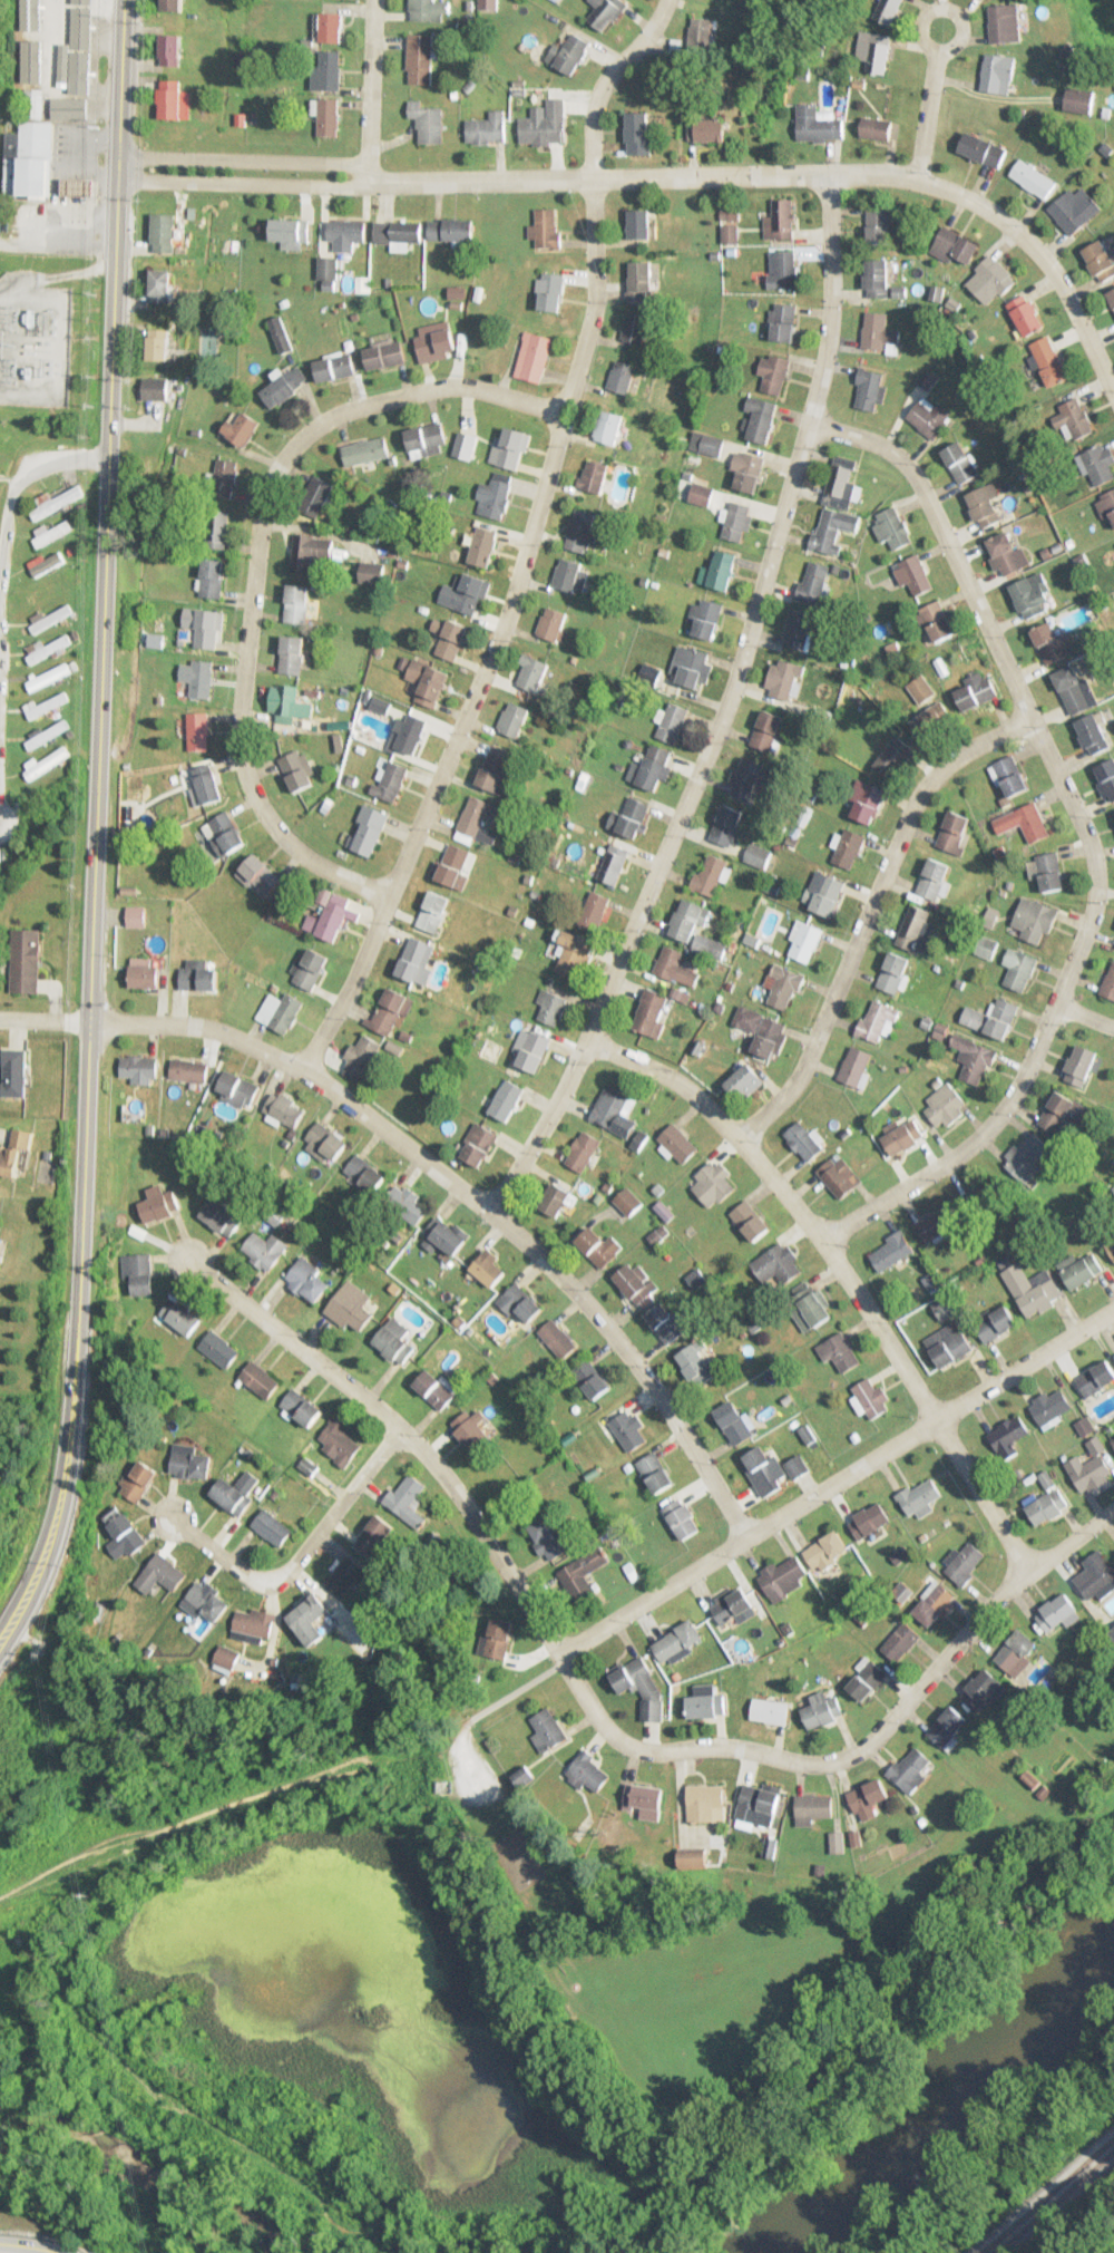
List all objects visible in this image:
building: (81, 4)
building: (488, 4)
building: (172, 6)
road: (944, 7)
building: (429, 10)
building: (888, 11)
building: (607, 13)
building: (1005, 23)
building: (330, 29)
building: (703, 36)
building: (30, 41)
building: (756, 48)
building: (170, 50)
building: (873, 51)
building: (569, 54)
building: (81, 55)
building: (420, 59)
building: (328, 70)
building: (997, 74)
road: (369, 90)
building: (173, 100)
building: (1079, 100)
building: (32, 104)
building: (69, 107)
road: (925, 113)
building: (328, 117)
building: (428, 123)
building: (819, 125)
building: (545, 126)
building: (487, 129)
building: (877, 129)
building: (710, 130)
building: (638, 134)
building: (983, 149)
road: (124, 155)
road: (248, 158)
building: (28, 161)
road: (793, 172)
road: (123, 178)
building: (1032, 178)
road: (247, 182)
building: (75, 187)
gas station: (75, 187)
building: (1074, 210)
building: (783, 220)
building: (639, 225)
building: (879, 225)
building: (450, 230)
building: (546, 230)
building: (398, 232)
building: (163, 233)
building: (291, 234)
building: (346, 234)
building: (954, 245)
road: (56, 250)
building: (1100, 262)
building: (782, 270)
building: (877, 279)
building: (990, 281)
building: (641, 282)
building: (160, 287)
building: (551, 293)
building: (1112, 297)
building: (1026, 315)
building: (783, 323)
building: (635, 328)
building: (879, 333)
building: (281, 334)
building: (436, 339)
building: (158, 346)
building: (207, 346)
building: (384, 356)
building: (534, 358)
building: (1049, 361)
building: (334, 368)
building: (773, 373)
building: (623, 378)
building: (284, 388)
building: (156, 389)
building: (870, 390)
building: (930, 418)
building: (1077, 418)
building: (759, 420)
building: (608, 428)
building: (241, 430)
building: (427, 440)
building: (465, 447)
building: (510, 449)
building: (365, 453)
building: (960, 464)
building: (1101, 465)
building: (747, 470)
building: (593, 477)
building: (225, 479)
building: (700, 495)
building: (317, 497)
building: (495, 497)
road: (7, 502)
building: (55, 503)
building: (1106, 505)
building: (837, 507)
building: (985, 507)
building: (737, 522)
building: (217, 530)
building: (892, 530)
building: (580, 532)
building: (52, 534)
road: (527, 542)
building: (483, 548)
building: (307, 553)
building: (1007, 554)
road: (254, 559)
building: (48, 565)
building: (719, 572)
building: (371, 575)
building: (913, 575)
building: (570, 576)
building: (212, 580)
building: (814, 582)
building: (50, 591)
building: (469, 595)
building: (1032, 595)
building: (296, 605)
building: (705, 619)
building: (51, 620)
building: (936, 622)
building: (553, 624)
building: (206, 629)
building: (798, 630)
building: (449, 639)
building: (1053, 643)
building: (49, 648)
building: (292, 655)
building: (691, 669)
building: (532, 674)
building: (51, 676)
building: (197, 678)
building: (784, 679)
building: (428, 682)
building: (977, 689)
building: (1075, 689)
building: (287, 703)
building: (45, 705)
road: (723, 710)
building: (931, 719)
building: (514, 720)
building: (672, 722)
building: (197, 731)
building: (766, 731)
building: (47, 734)
building: (410, 735)
building: (1093, 735)
building: (893, 757)
building: (46, 763)
building: (651, 768)
building: (297, 770)
building: (494, 770)
building: (1012, 776)
building: (751, 778)
building: (1106, 778)
building: (391, 780)
building: (206, 784)
building: (866, 800)
building: (478, 815)
building: (633, 817)
building: (1028, 822)
road: (95, 824)
building: (729, 826)
building: (368, 831)
building: (954, 832)
building: (226, 833)
road: (1085, 834)
building: (848, 848)
building: (758, 855)
building: (613, 864)
building: (452, 865)
building: (1051, 872)
building: (710, 875)
building: (258, 876)
building: (934, 880)
building: (823, 893)
building: (593, 911)
road: (867, 911)
building: (433, 912)
building: (136, 916)
building: (330, 916)
building: (688, 921)
building: (1034, 921)
building: (916, 929)
building: (803, 941)
building: (575, 955)
building: (26, 962)
building: (416, 962)
building: (668, 962)
building: (311, 970)
building: (1020, 971)
building: (893, 973)
building: (144, 974)
building: (197, 977)
building: (783, 985)
building: (1108, 985)
building: (550, 1008)
building: (280, 1012)
building: (390, 1013)
road: (1083, 1016)
road: (43, 1018)
building: (993, 1018)
building: (648, 1019)
road: (92, 1020)
building: (878, 1021)
building: (762, 1031)
building: (532, 1051)
building: (361, 1058)
building: (974, 1058)
building: (1081, 1066)
building: (138, 1067)
building: (854, 1067)
building: (188, 1070)
building: (16, 1074)
building: (744, 1082)
building: (238, 1088)
building: (507, 1100)
building: (945, 1106)
building: (284, 1109)
building: (614, 1110)
building: (1063, 1113)
building: (902, 1137)
building: (803, 1142)
building: (324, 1144)
building: (678, 1144)
building: (477, 1145)
building: (14, 1150)
building: (583, 1152)
building: (1028, 1158)
building: (364, 1172)
building: (839, 1176)
building: (711, 1185)
building: (990, 1197)
building: (555, 1198)
road: (477, 1202)
building: (158, 1205)
building: (409, 1207)
building: (274, 1214)
building: (221, 1217)
building: (751, 1220)
building: (937, 1223)
building: (446, 1235)
building: (599, 1245)
building: (1111, 1246)
building: (264, 1250)
building: (890, 1251)
building: (779, 1263)
building: (488, 1266)
building: (1081, 1269)
building: (138, 1272)
building: (309, 1281)
building: (636, 1283)
building: (1033, 1289)
building: (519, 1301)
building: (351, 1307)
building: (810, 1307)
building: (180, 1315)
building: (665, 1322)
building: (995, 1322)
building: (558, 1338)
building: (394, 1341)
building: (949, 1343)
building: (219, 1349)
building: (840, 1354)
building: (695, 1365)
building: (1096, 1378)
building: (260, 1379)
building: (592, 1379)
building: (434, 1389)
building: (302, 1406)
building: (1051, 1406)
building: (734, 1421)
building: (472, 1428)
building: (628, 1430)
building: (1009, 1437)
building: (340, 1441)
building: (1113, 1441)
building: (189, 1461)
building: (798, 1465)
building: (763, 1466)
building: (1091, 1472)
building: (655, 1473)
road: (834, 1479)
building: (137, 1480)
building: (405, 1494)
building: (233, 1496)
building: (919, 1498)
building: (1047, 1501)
building: (683, 1518)
building: (870, 1521)
building: (273, 1527)
building: (123, 1534)
building: (375, 1536)
building: (553, 1538)
road: (1071, 1538)
building: (825, 1550)
road: (302, 1554)
building: (965, 1562)
building: (584, 1573)
building: (159, 1574)
building: (348, 1576)
building: (783, 1576)
building: (1096, 1576)
building: (206, 1602)
building: (934, 1604)
building: (732, 1606)
building: (1057, 1612)
building: (309, 1619)
building: (252, 1625)
building: (1112, 1632)
building: (498, 1638)
building: (678, 1641)
building: (901, 1642)
building: (867, 1680)
building: (641, 1687)
building: (981, 1688)
building: (706, 1703)
building: (822, 1710)
building: (770, 1711)
building: (948, 1726)
building: (547, 1730)
road: (878, 1732)
building: (911, 1769)
building: (589, 1773)
building: (868, 1798)
building: (645, 1799)
building: (705, 1803)
building: (759, 1804)
building: (812, 1808)
river: (944, 2088)
road: (1009, 2149)
river: (144, 2168)
park: (1030, 2175)
railway: (1046, 2194)
railway: (1053, 2199)
road: (1084, 2228)
road: (28, 2245)

